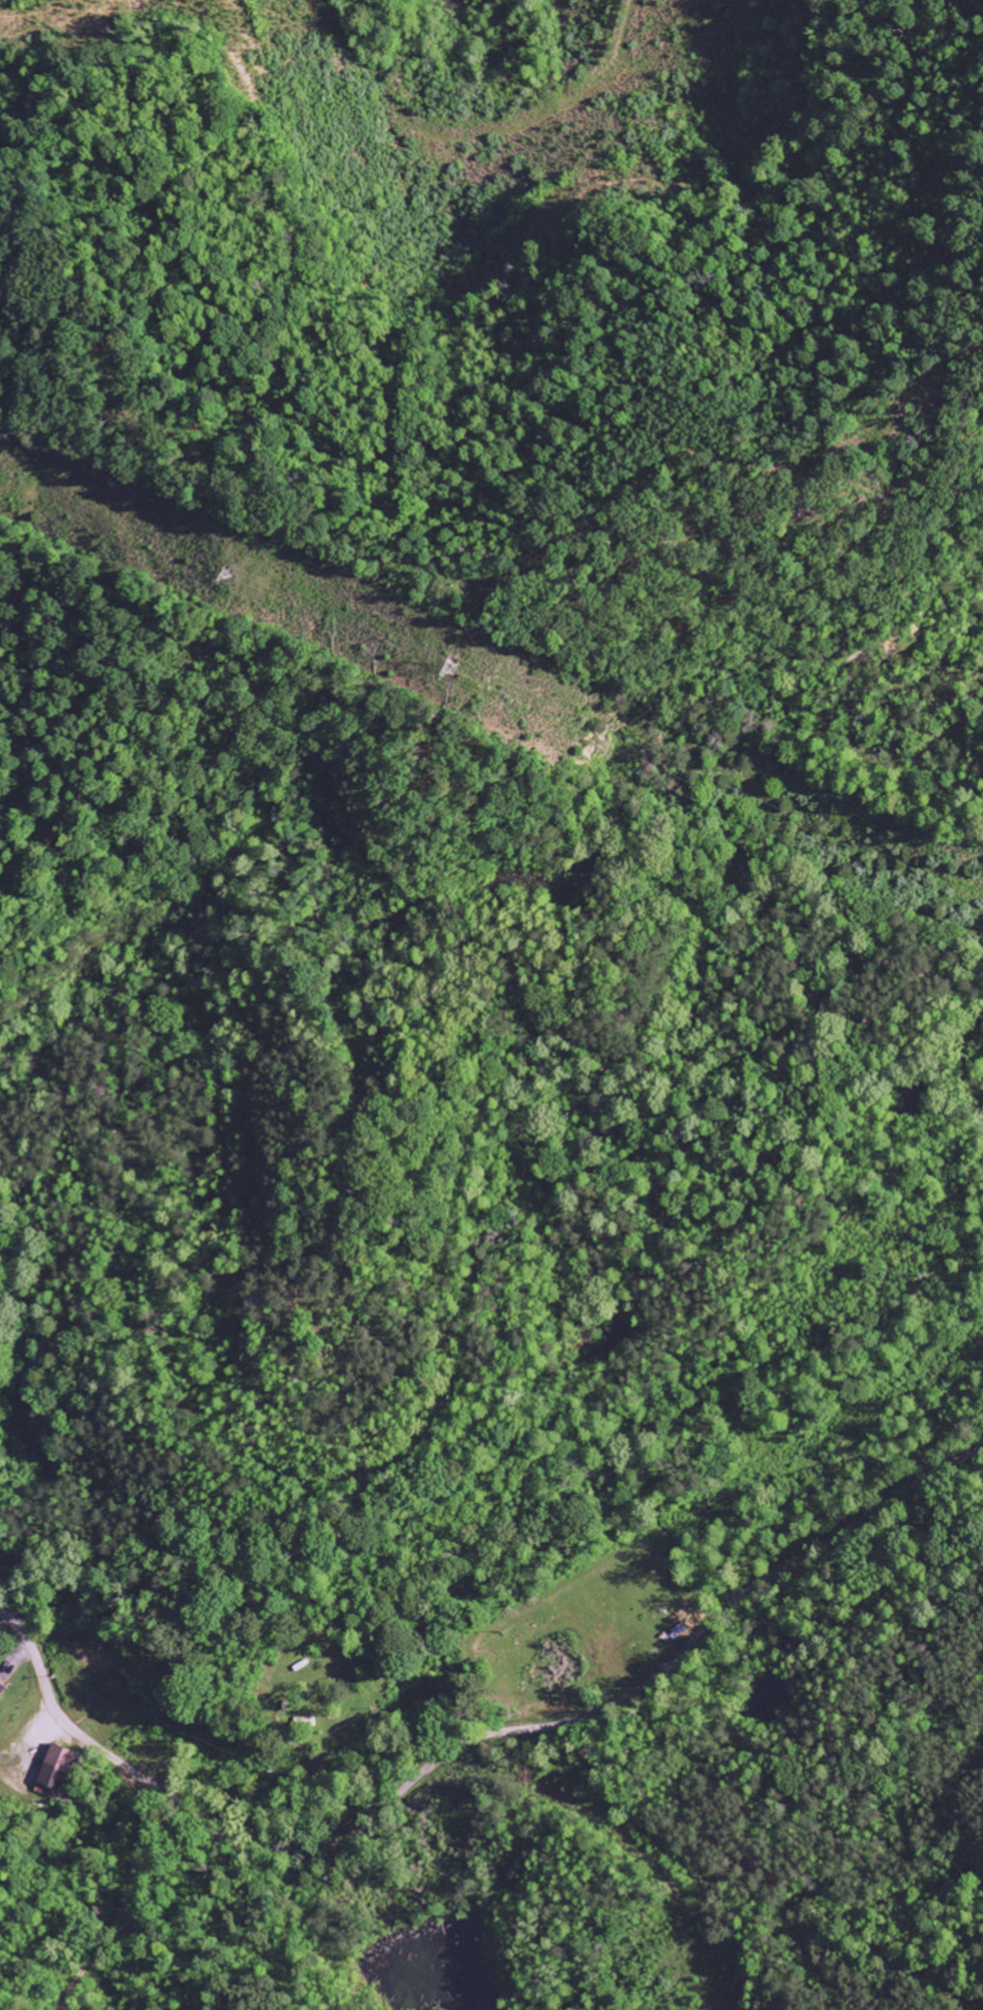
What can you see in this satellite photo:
building: (4, 1690)
road: (468, 1738)
building: (56, 1773)

